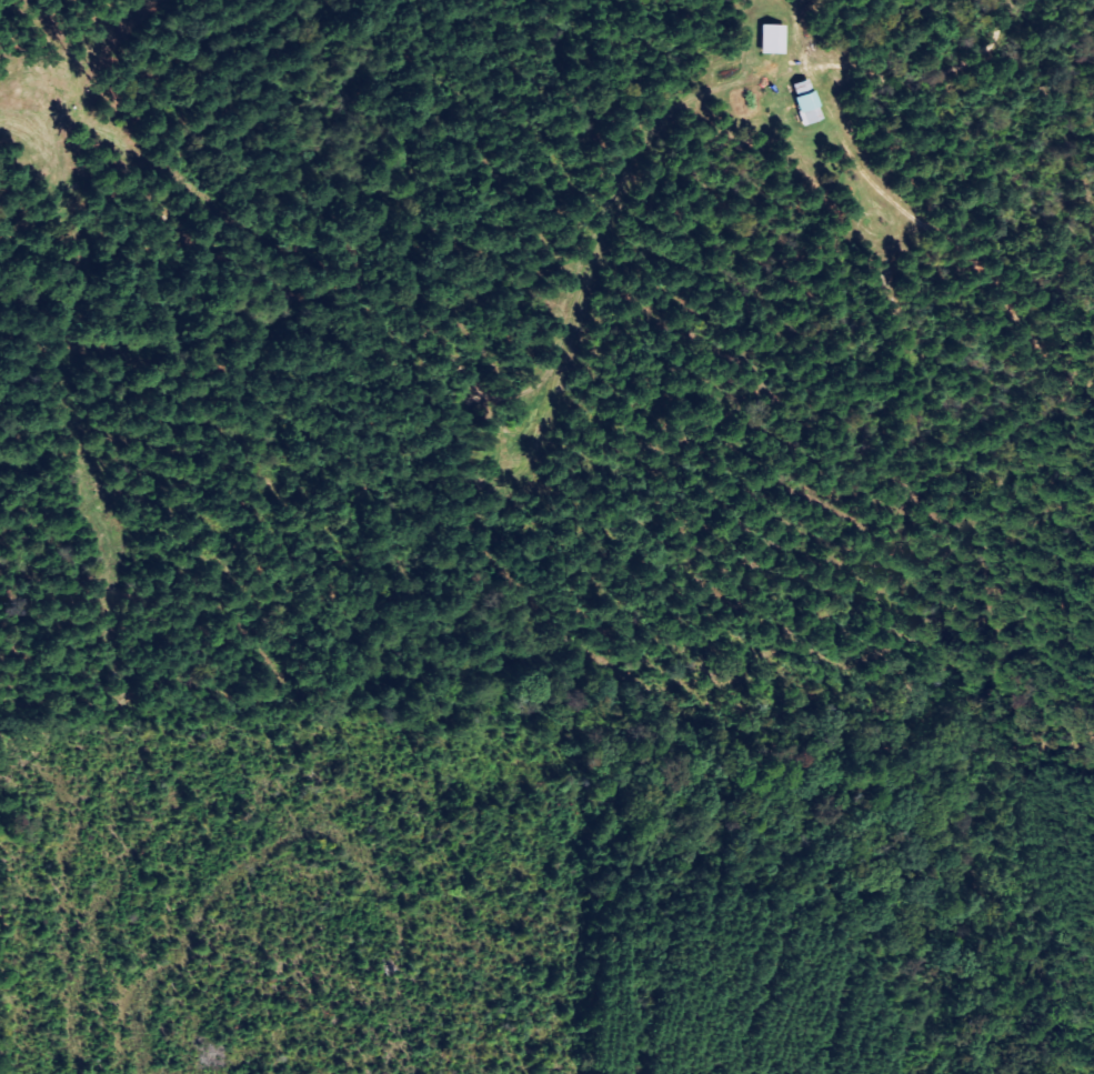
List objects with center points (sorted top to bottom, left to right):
building: (796, 89)
building: (803, 110)

